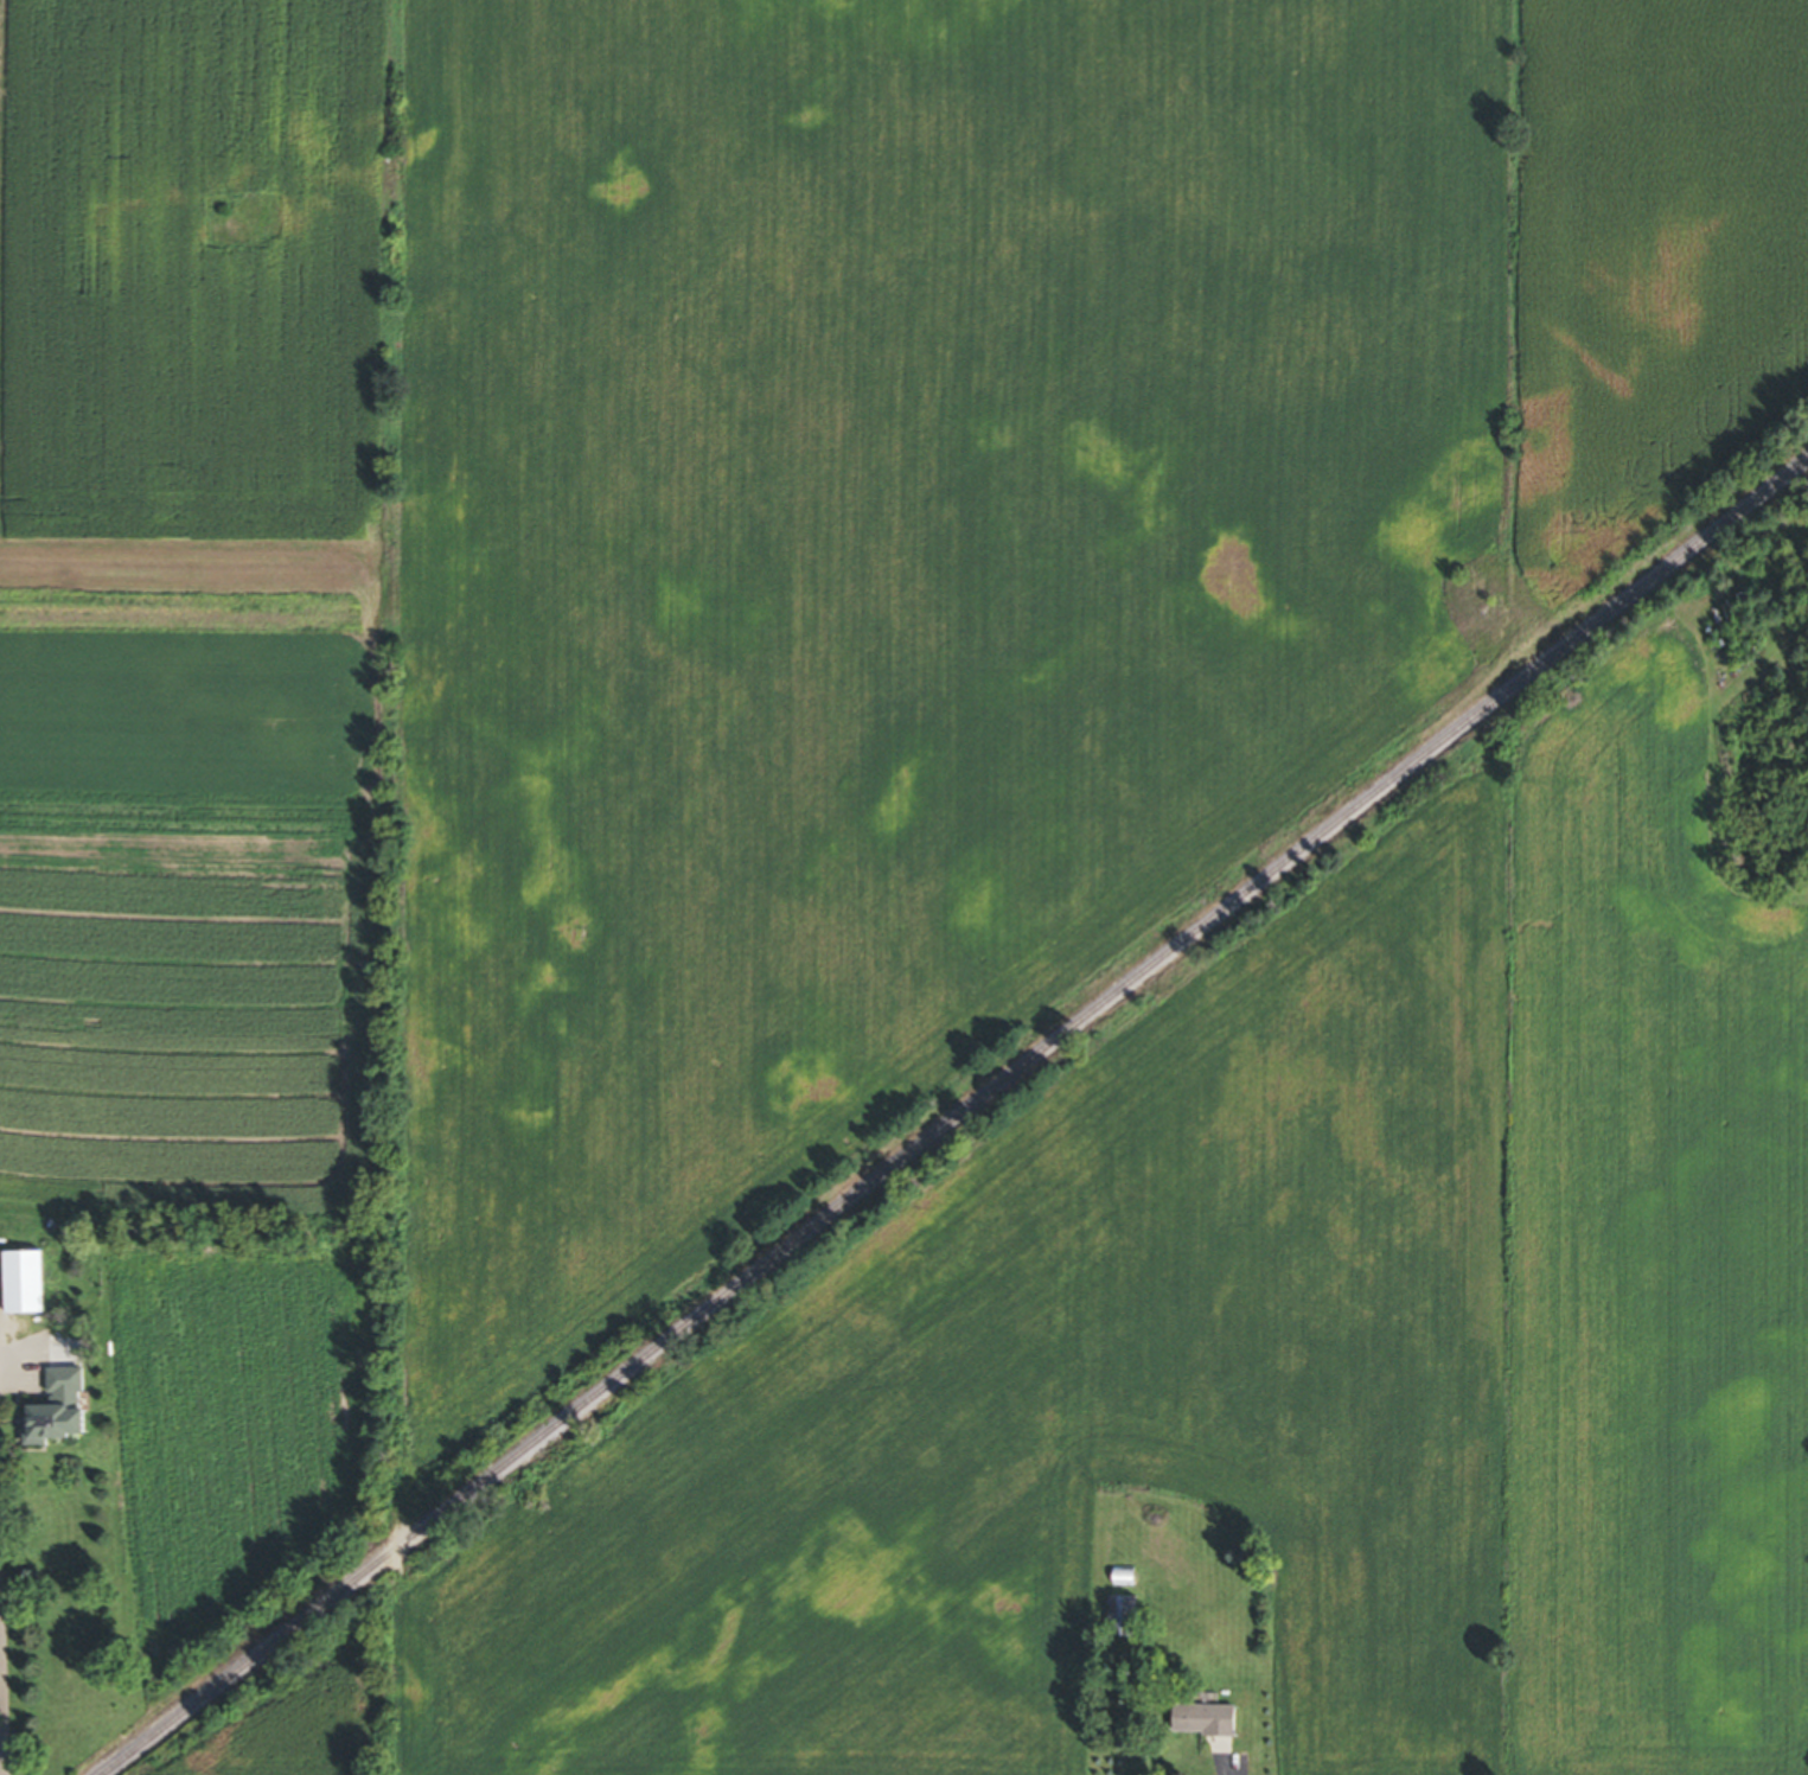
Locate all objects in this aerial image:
crop: (739, 604)
railway: (957, 1118)
building: (4, 1257)
building: (37, 1283)
building: (66, 1415)
building: (1119, 1578)
building: (1116, 1618)
road: (1, 1632)
building: (1199, 1720)

